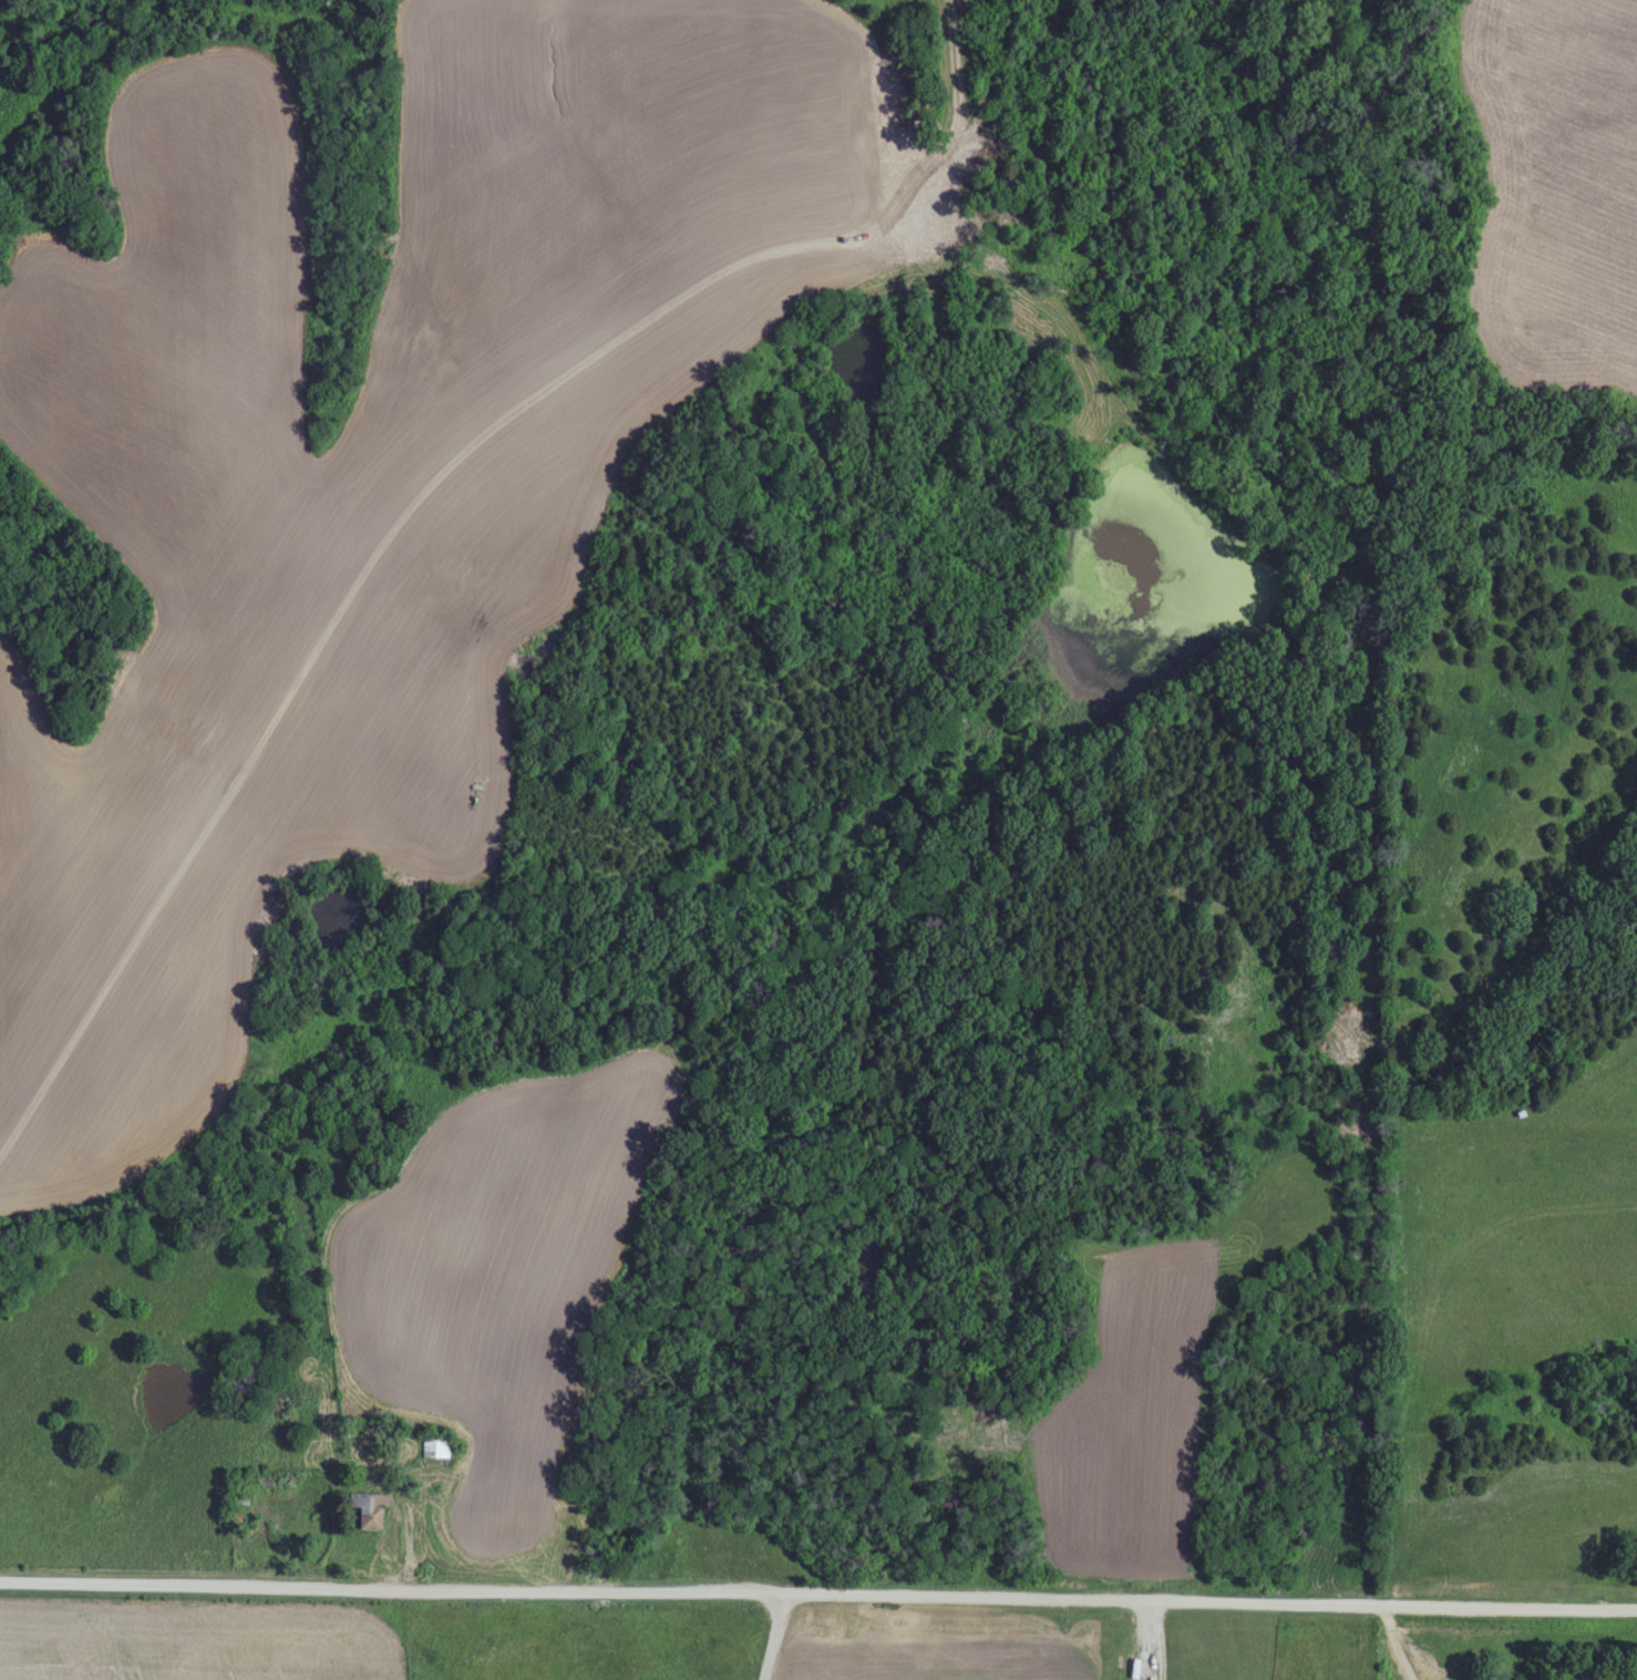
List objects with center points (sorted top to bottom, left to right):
building: (439, 1446)
building: (294, 1488)
building: (371, 1509)
road: (819, 1593)

